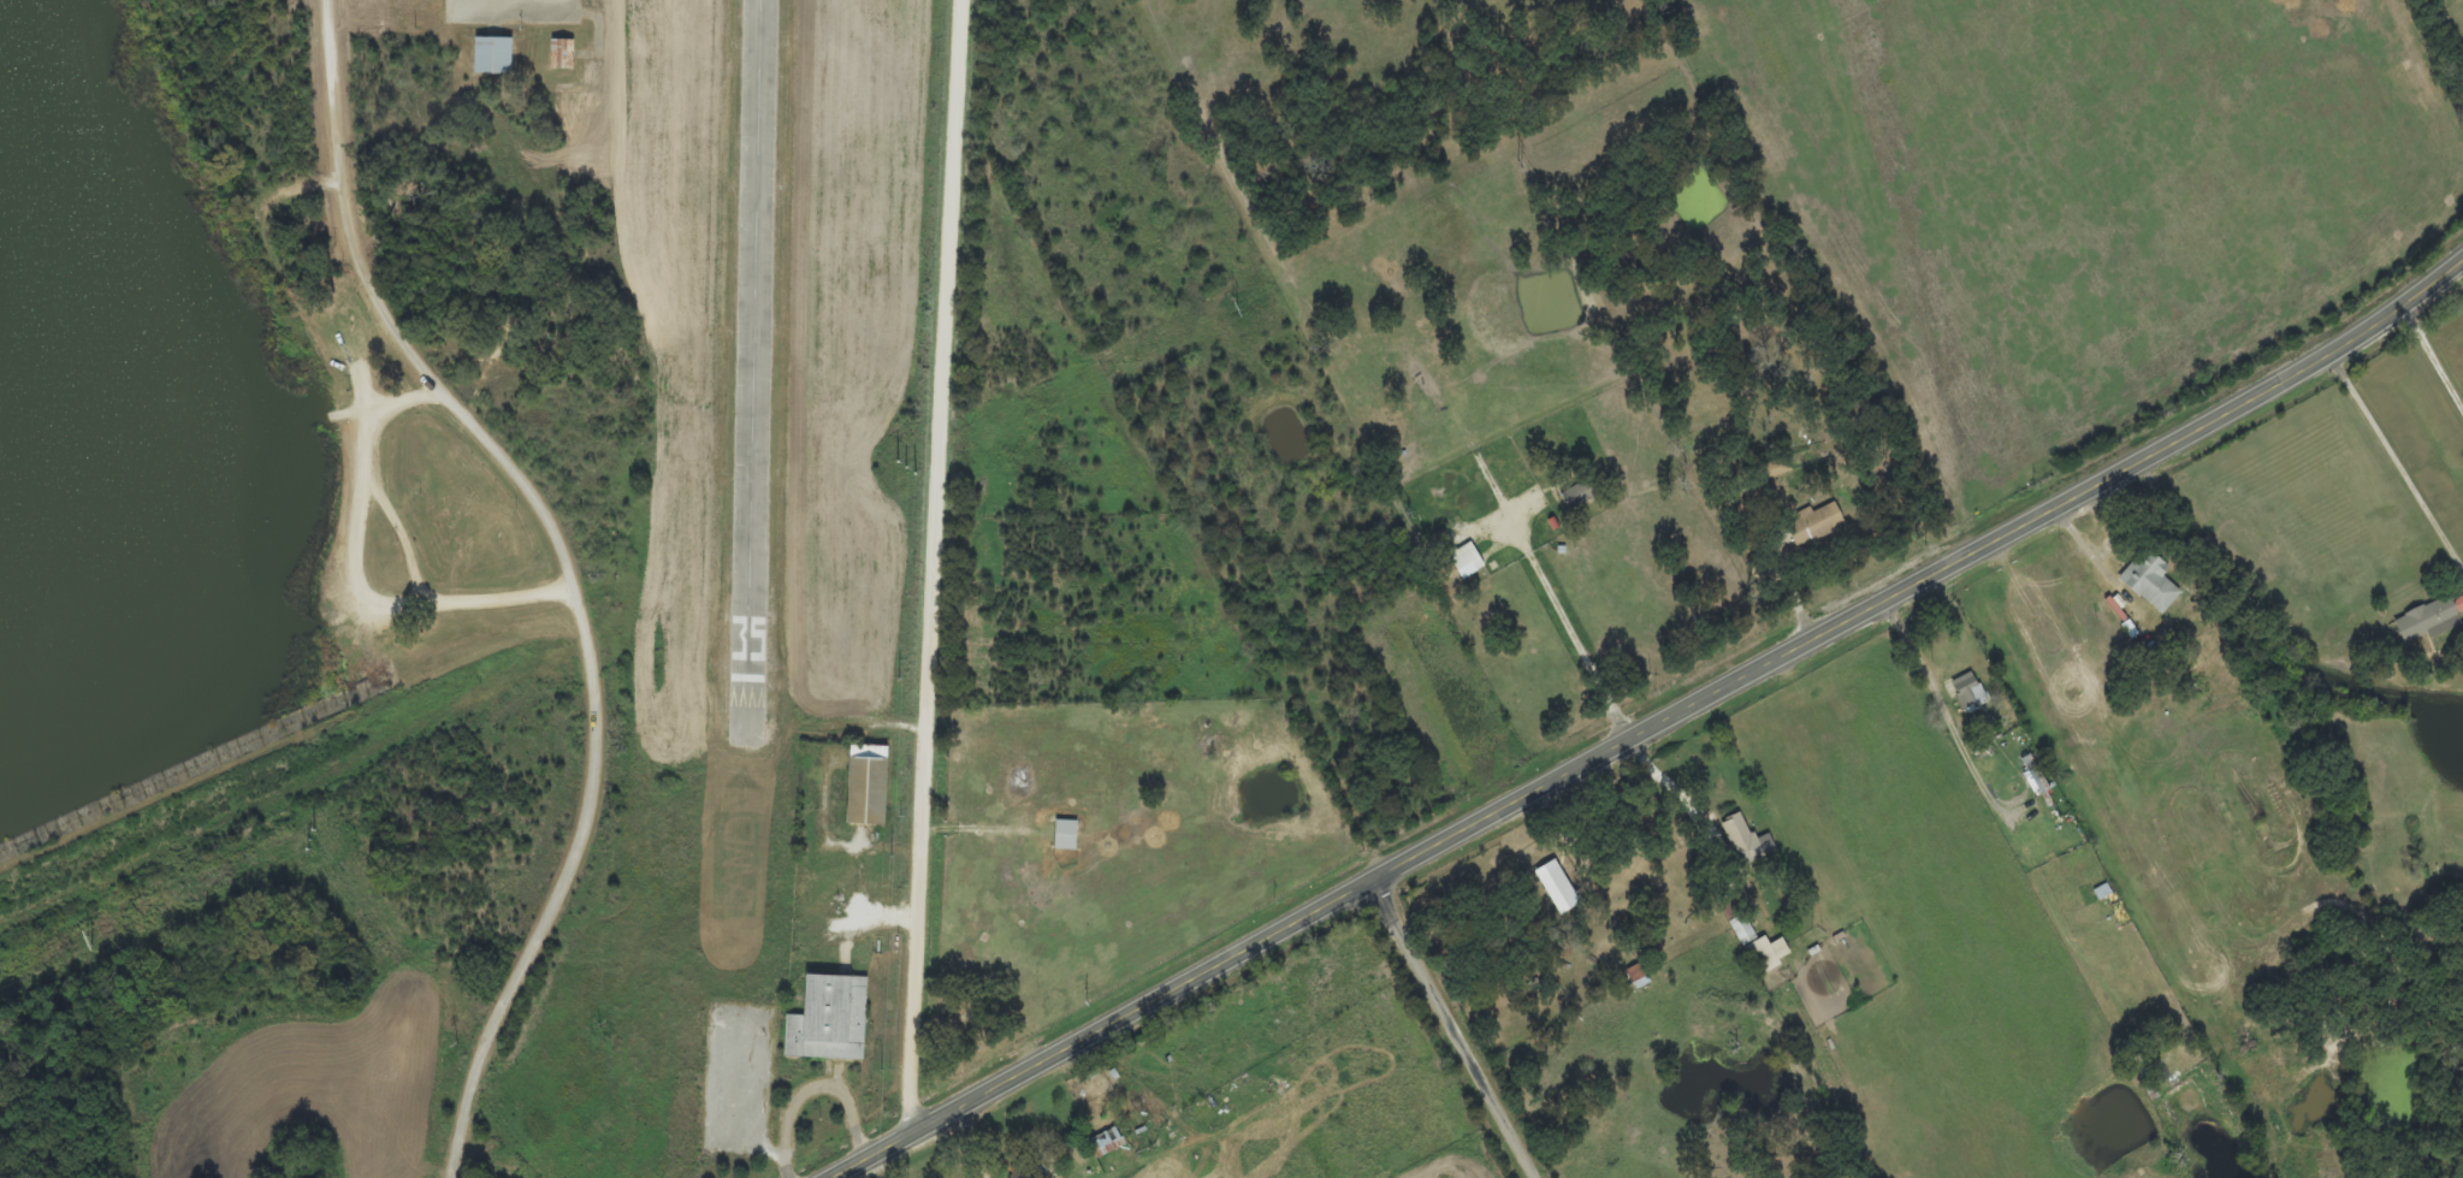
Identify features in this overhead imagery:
building: (559, 53)
building: (491, 54)
power tower: (1517, 164)
power tower: (1233, 308)
airport runway: (753, 368)
road: (415, 404)
power tower: (906, 467)
building: (1778, 469)
building: (1581, 495)
building: (1816, 525)
building: (1467, 562)
road: (941, 567)
building: (2150, 582)
building: (2459, 605)
building: (2428, 622)
power tower: (899, 680)
building: (1968, 692)
road: (1657, 727)
road: (598, 776)
building: (865, 785)
building: (1065, 836)
power tower: (309, 839)
building: (1746, 839)
power tower: (892, 857)
building: (1557, 888)
building: (1742, 931)
power tower: (89, 941)
building: (1766, 955)
building: (1639, 977)
building: (828, 1017)
road: (1458, 1029)
power tower: (456, 1042)
power tower: (880, 1070)
building: (1105, 1144)

